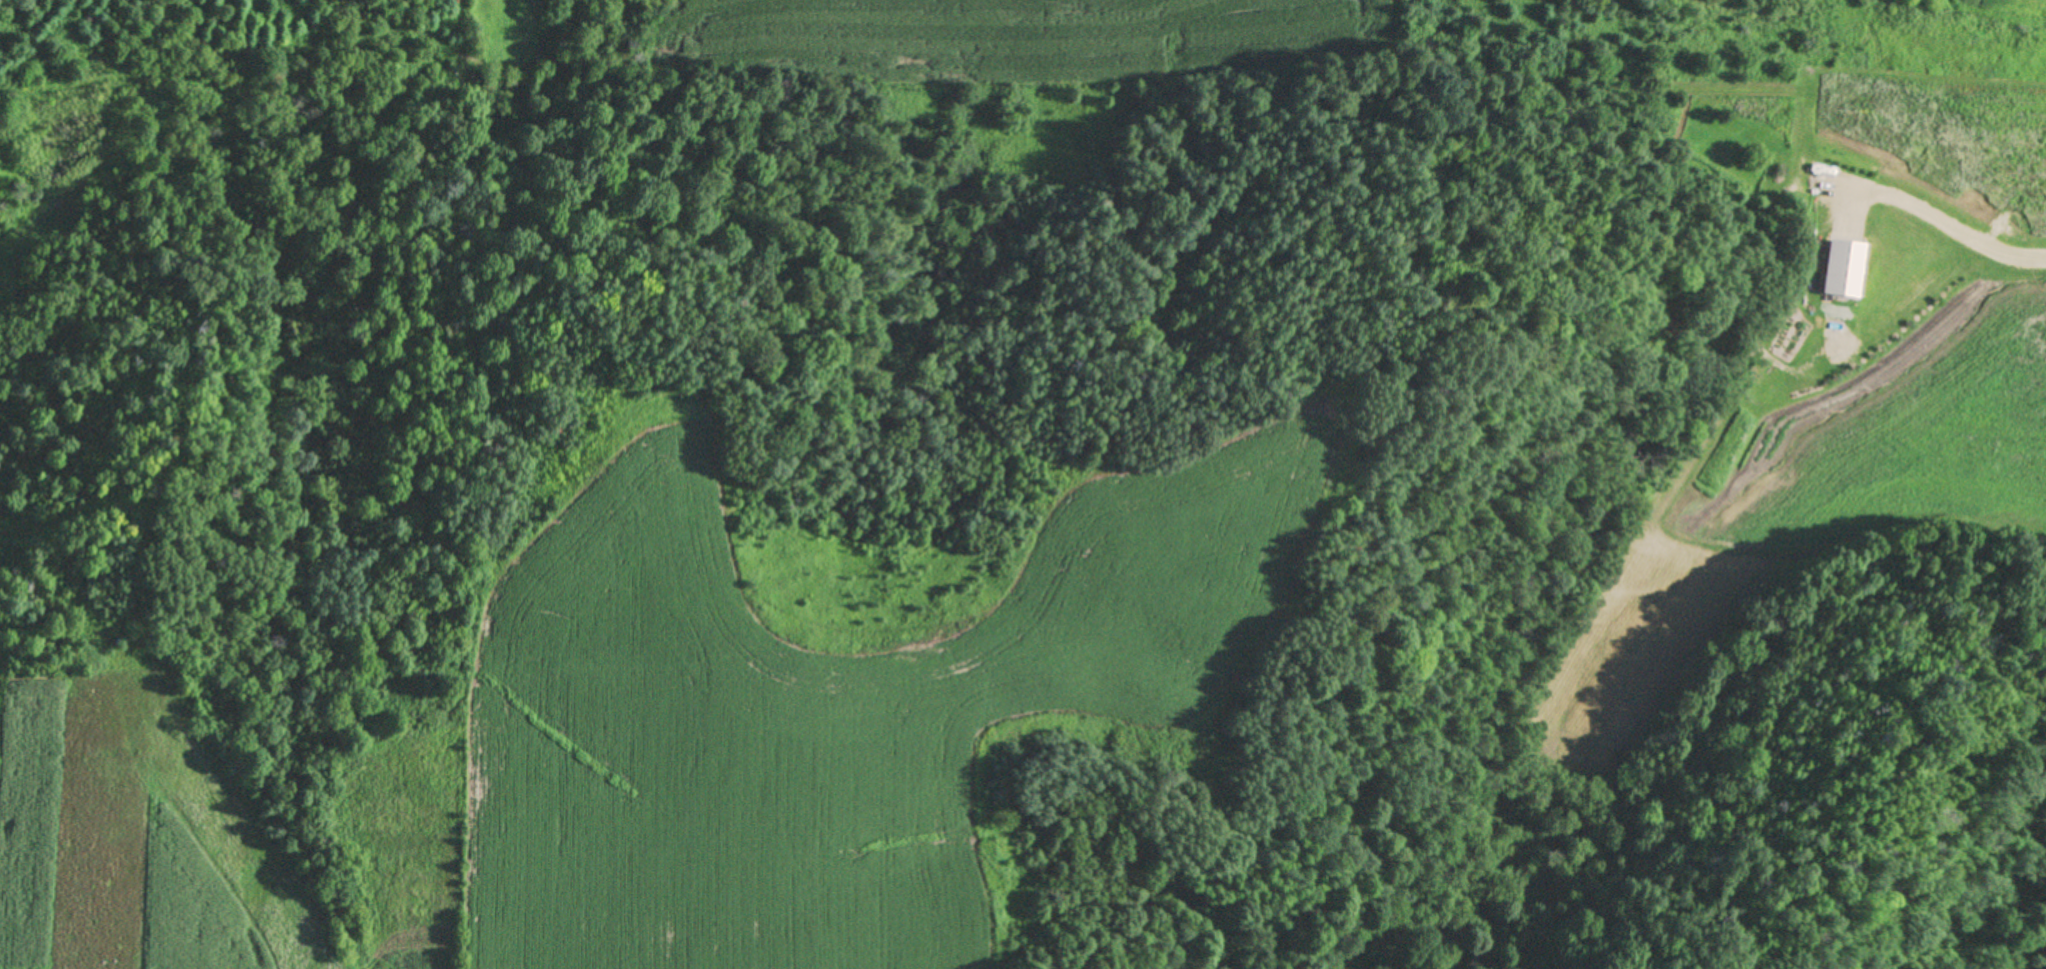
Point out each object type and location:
road: (1946, 220)
building: (1845, 268)

